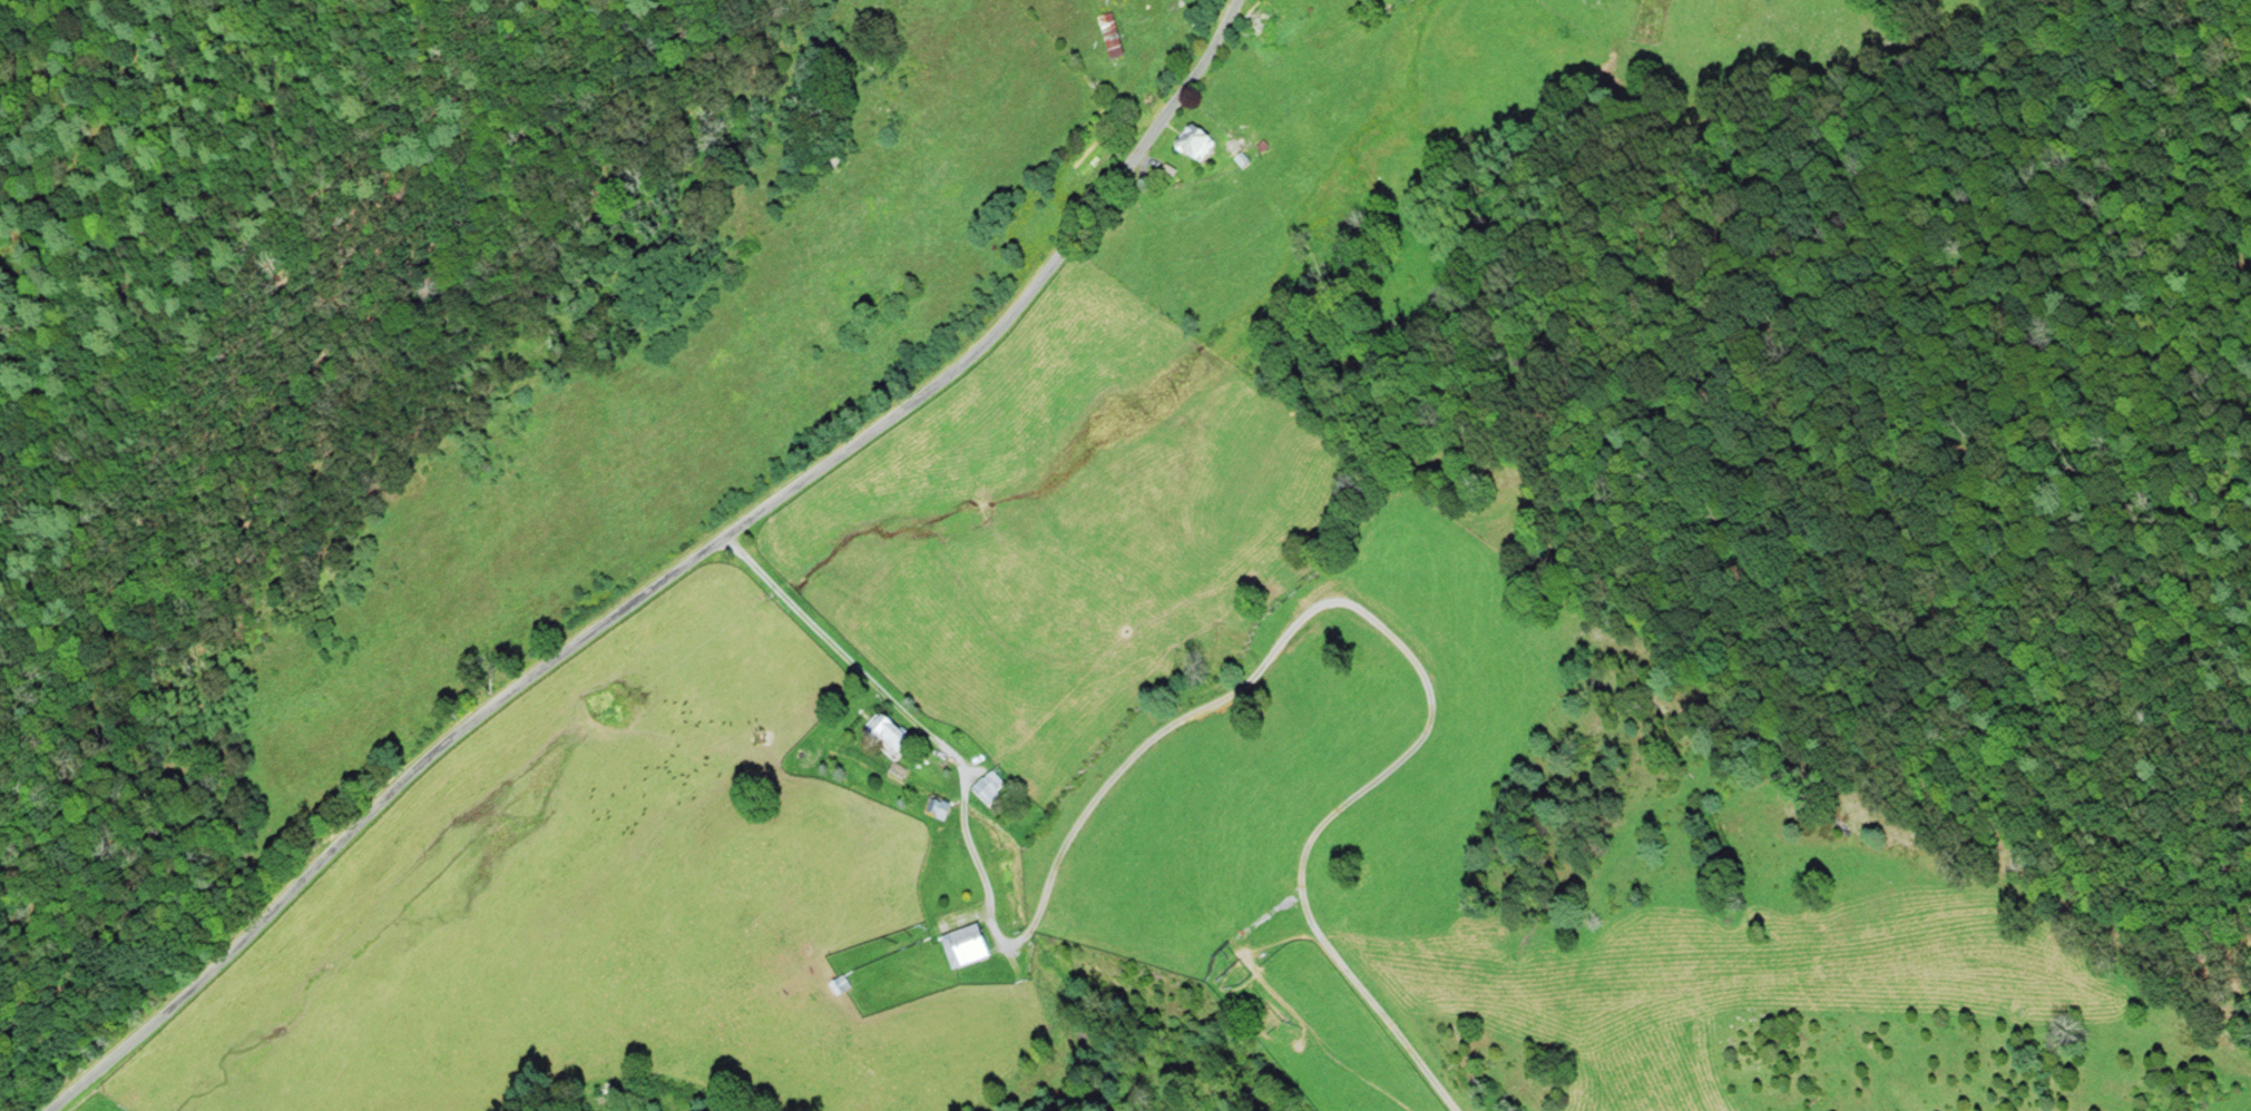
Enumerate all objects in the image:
building: (1269, 18)
building: (1143, 99)
building: (1198, 141)
building: (1236, 145)
building: (1266, 145)
building: (1244, 159)
road: (669, 574)
road: (1398, 646)
road: (911, 714)
building: (890, 738)
building: (899, 773)
building: (989, 786)
building: (938, 805)
building: (967, 946)

